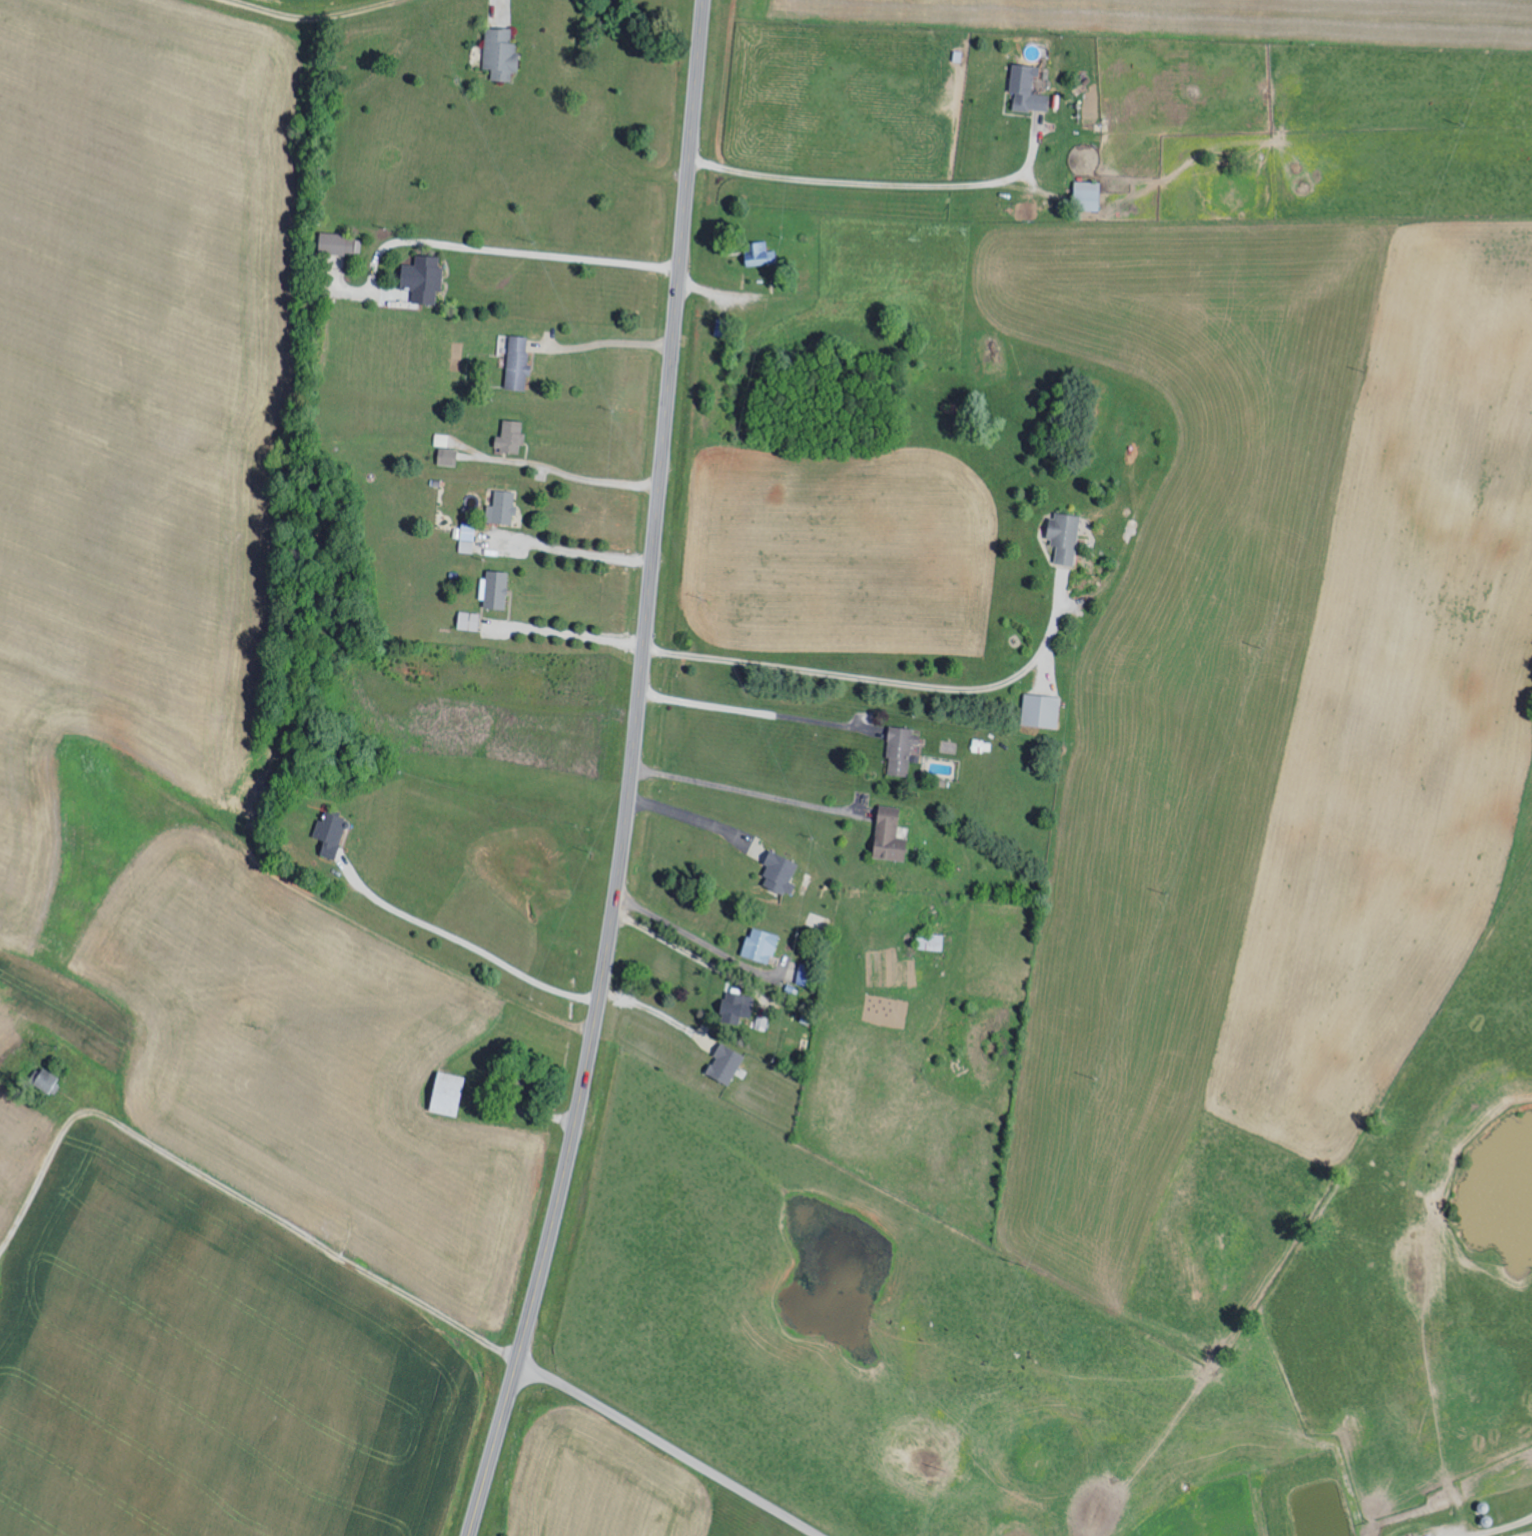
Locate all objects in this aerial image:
road: (379, 21)
building: (502, 54)
building: (1029, 89)
road: (877, 183)
building: (1090, 194)
building: (338, 244)
road: (491, 249)
building: (762, 255)
building: (424, 279)
road: (602, 343)
building: (519, 363)
building: (511, 438)
building: (448, 457)
road: (590, 479)
building: (503, 508)
building: (1066, 537)
building: (468, 538)
road: (572, 551)
building: (496, 590)
building: (470, 621)
road: (579, 636)
building: (1042, 711)
building: (983, 746)
building: (902, 751)
road: (632, 775)
road: (693, 818)
building: (332, 832)
building: (891, 835)
building: (781, 872)
road: (291, 928)
building: (931, 941)
road: (466, 942)
building: (762, 944)
road: (680, 946)
building: (737, 1006)
road: (657, 1011)
building: (762, 1022)
building: (726, 1063)
building: (47, 1080)
building: (449, 1093)
road: (206, 1180)
road: (668, 1447)

